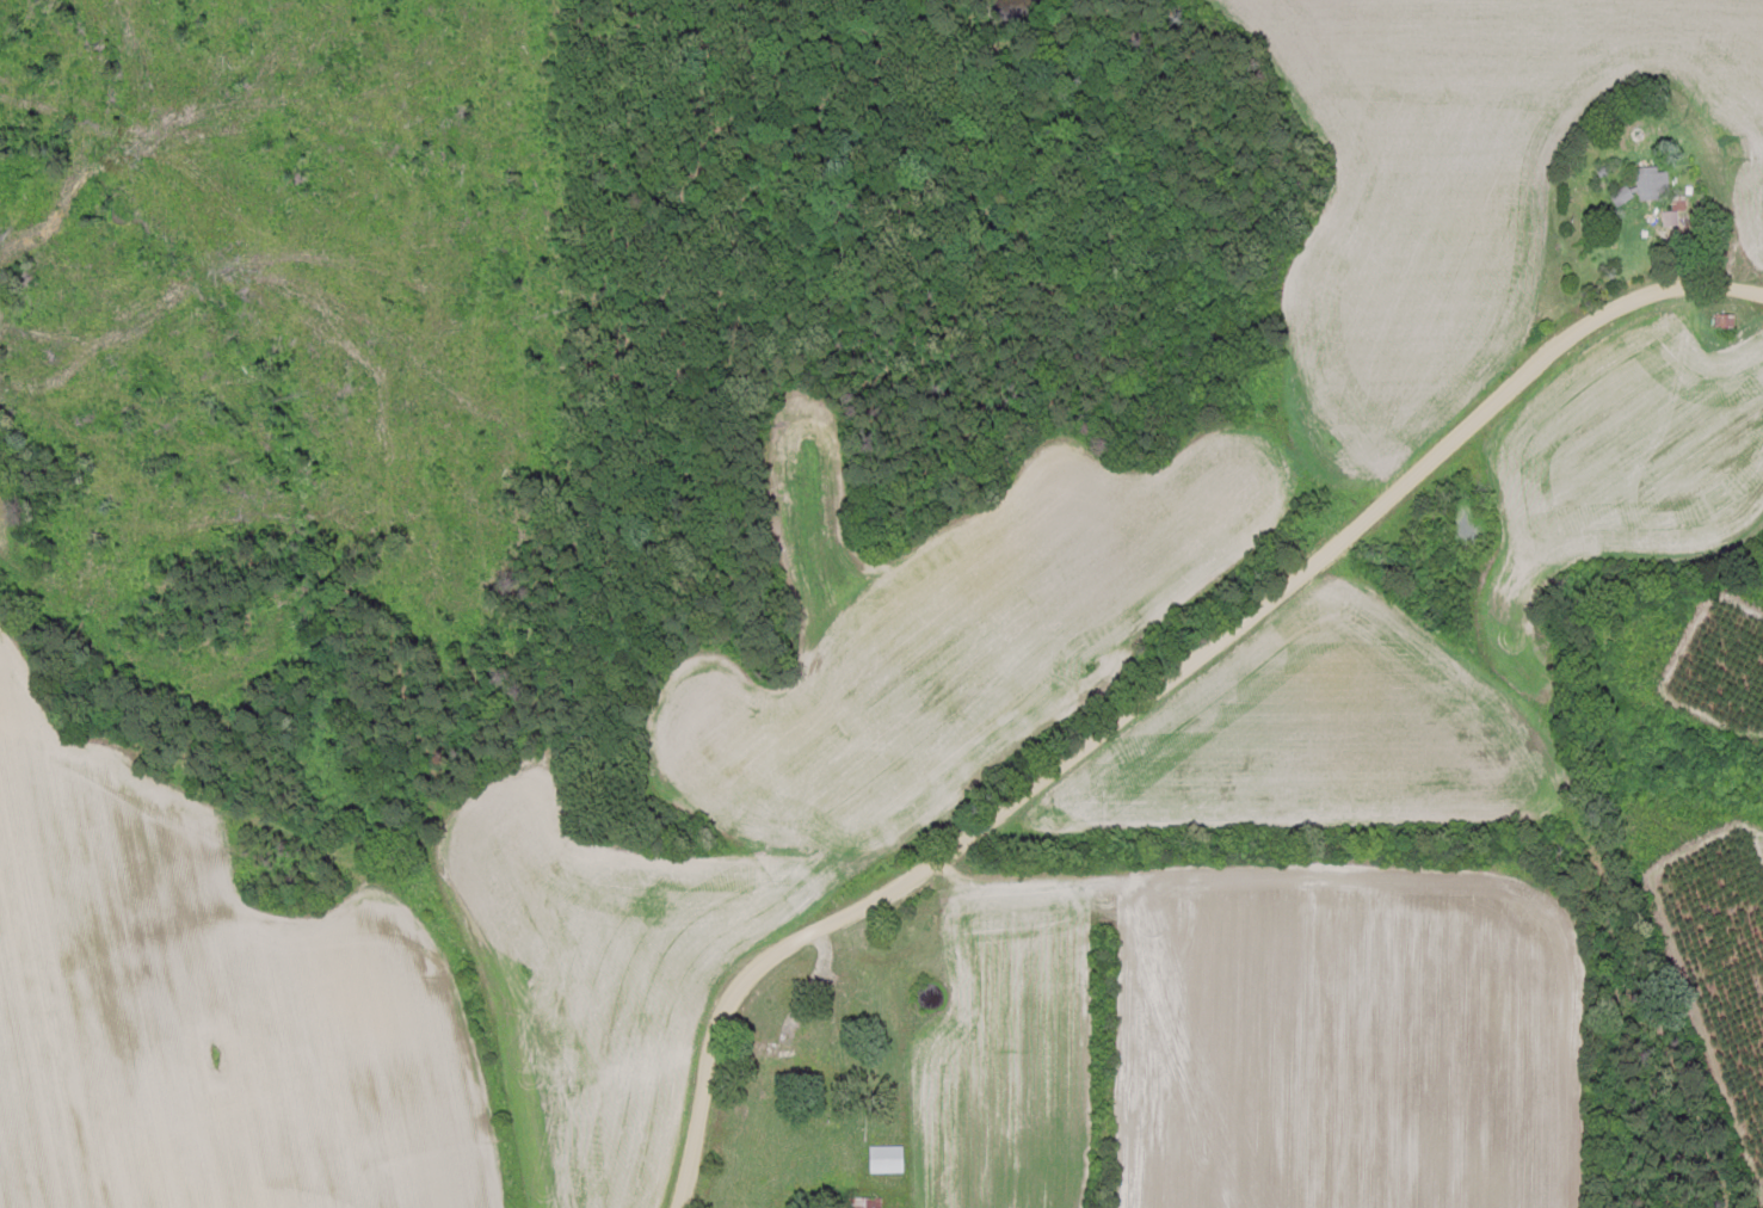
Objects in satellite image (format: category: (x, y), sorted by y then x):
building: (1647, 183)
building: (1616, 196)
building: (1721, 321)
road: (1158, 689)
building: (770, 1043)
building: (880, 1160)
building: (858, 1203)

